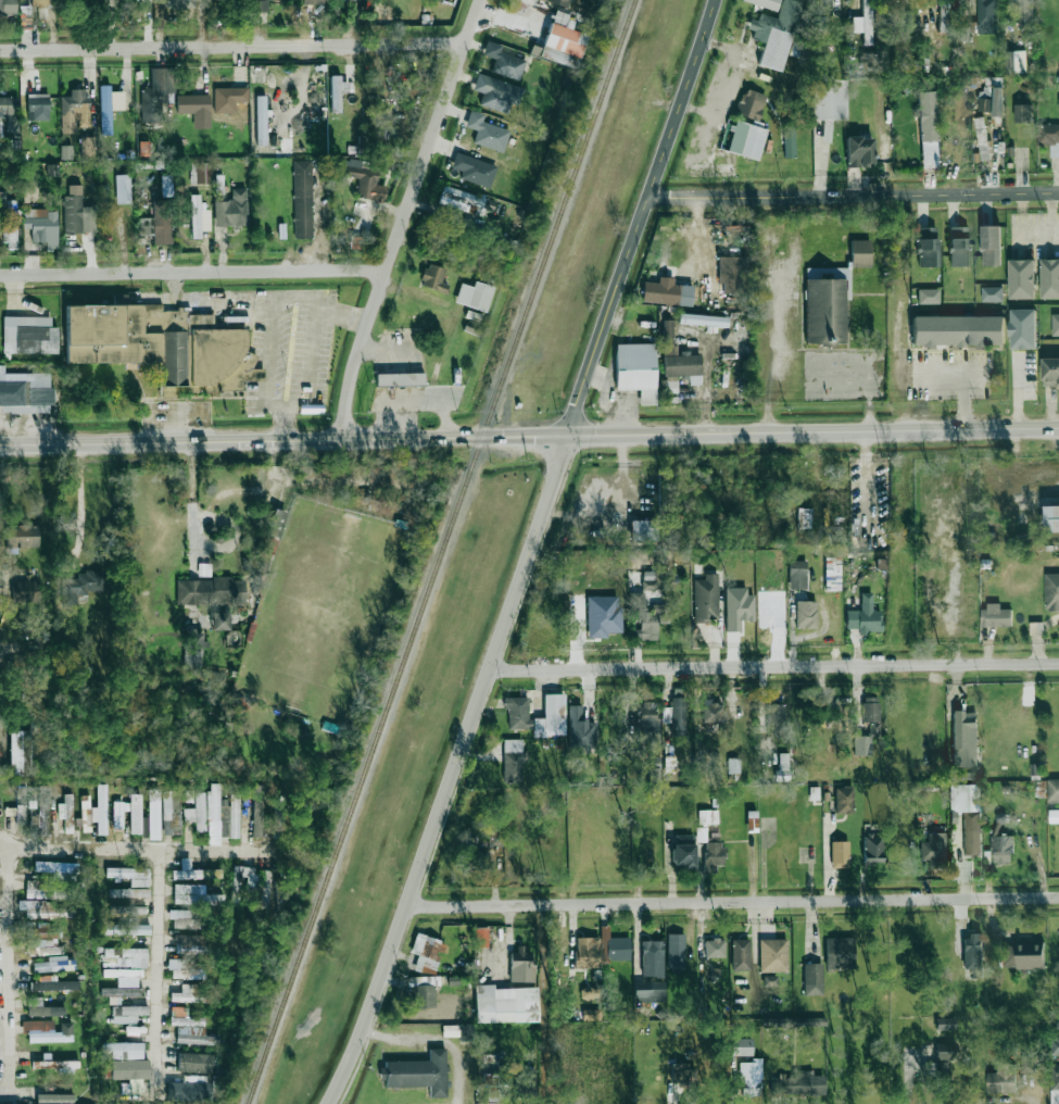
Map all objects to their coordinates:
building: (348, 0)
building: (311, 1)
building: (559, 2)
building: (39, 3)
building: (179, 4)
building: (260, 5)
building: (8, 8)
building: (823, 8)
building: (1024, 13)
building: (987, 16)
building: (865, 23)
building: (776, 34)
building: (560, 42)
road: (232, 45)
building: (503, 61)
building: (1016, 62)
building: (337, 92)
building: (157, 93)
building: (496, 93)
building: (229, 98)
building: (829, 99)
building: (751, 103)
building: (993, 103)
building: (38, 106)
building: (110, 106)
building: (196, 109)
building: (74, 111)
building: (1023, 113)
building: (9, 115)
building: (928, 116)
building: (261, 120)
building: (487, 133)
building: (1049, 137)
building: (982, 138)
building: (746, 139)
building: (790, 141)
building: (88, 148)
building: (144, 148)
building: (859, 151)
building: (65, 152)
building: (474, 170)
building: (200, 173)
building: (362, 178)
building: (218, 185)
building: (165, 186)
building: (123, 189)
road: (853, 195)
building: (302, 199)
building: (462, 200)
building: (231, 210)
building: (77, 212)
building: (196, 216)
road: (1051, 216)
road: (402, 217)
building: (9, 222)
building: (157, 223)
building: (42, 225)
road: (1033, 234)
building: (991, 246)
building: (928, 247)
building: (959, 247)
building: (860, 253)
road: (191, 272)
building: (730, 275)
building: (433, 278)
building: (1022, 279)
building: (1049, 279)
building: (667, 292)
building: (992, 293)
building: (475, 296)
building: (928, 296)
building: (822, 311)
building: (703, 319)
building: (957, 329)
building: (1023, 329)
road: (269, 333)
building: (28, 335)
building: (163, 346)
road: (771, 348)
road: (310, 350)
building: (678, 359)
road: (870, 369)
building: (636, 371)
building: (1050, 371)
parking lot: (951, 374)
road: (974, 374)
parking lot: (845, 376)
road: (963, 378)
building: (400, 379)
building: (25, 392)
traffic signals: (566, 435)
road: (529, 436)
road: (192, 495)
road: (81, 506)
building: (804, 518)
building: (1051, 518)
building: (276, 523)
building: (643, 530)
building: (270, 547)
railway: (442, 551)
road: (526, 553)
building: (797, 574)
building: (79, 586)
building: (25, 591)
building: (211, 591)
building: (1051, 591)
building: (706, 598)
building: (737, 607)
park: (324, 611)
building: (806, 614)
building: (603, 616)
building: (865, 616)
building: (995, 616)
building: (648, 618)
building: (219, 620)
building: (193, 649)
road: (771, 668)
building: (870, 710)
building: (711, 711)
building: (517, 712)
building: (676, 714)
building: (646, 716)
building: (551, 717)
building: (774, 718)
building: (580, 731)
road: (1, 737)
building: (866, 741)
building: (966, 744)
building: (18, 753)
building: (513, 761)
building: (733, 765)
building: (655, 771)
building: (1052, 791)
building: (189, 795)
building: (843, 800)
building: (21, 804)
building: (101, 810)
building: (257, 810)
building: (86, 812)
building: (171, 812)
building: (198, 812)
building: (66, 813)
building: (136, 813)
building: (154, 813)
building: (118, 814)
building: (213, 814)
building: (278, 815)
building: (968, 815)
building: (707, 816)
building: (1054, 816)
building: (230, 818)
building: (146, 826)
building: (873, 849)
road: (128, 850)
building: (710, 850)
building: (935, 850)
building: (1001, 850)
building: (683, 851)
building: (840, 854)
building: (475, 858)
building: (59, 869)
building: (192, 871)
building: (129, 875)
building: (243, 881)
building: (266, 888)
building: (43, 891)
building: (128, 892)
building: (191, 894)
road: (730, 902)
building: (43, 909)
building: (127, 909)
building: (184, 919)
building: (127, 929)
building: (43, 931)
building: (481, 937)
building: (614, 945)
building: (42, 946)
building: (714, 948)
building: (191, 949)
building: (676, 951)
building: (587, 952)
building: (839, 952)
building: (427, 953)
building: (741, 954)
building: (973, 954)
building: (772, 955)
building: (127, 956)
building: (1023, 956)
building: (652, 958)
building: (108, 962)
building: (52, 964)
building: (520, 965)
road: (161, 967)
building: (184, 969)
road: (8, 970)
building: (124, 976)
building: (812, 978)
building: (769, 980)
building: (53, 986)
building: (648, 991)
building: (590, 992)
building: (119, 993)
building: (423, 993)
building: (188, 994)
building: (505, 1004)
building: (42, 1008)
building: (127, 1014)
building: (592, 1015)
building: (787, 1021)
building: (945, 1024)
building: (190, 1028)
building: (47, 1031)
road: (437, 1037)
building: (1055, 1045)
building: (741, 1046)
building: (125, 1050)
building: (945, 1051)
building: (196, 1062)
building: (56, 1065)
building: (1028, 1066)
building: (418, 1072)
building: (749, 1074)
building: (130, 1075)
building: (940, 1078)
building: (1001, 1079)
building: (531, 1080)
building: (798, 1083)
building: (1055, 1084)
building: (492, 1087)
building: (189, 1090)
road: (17, 1093)
building: (54, 1099)

